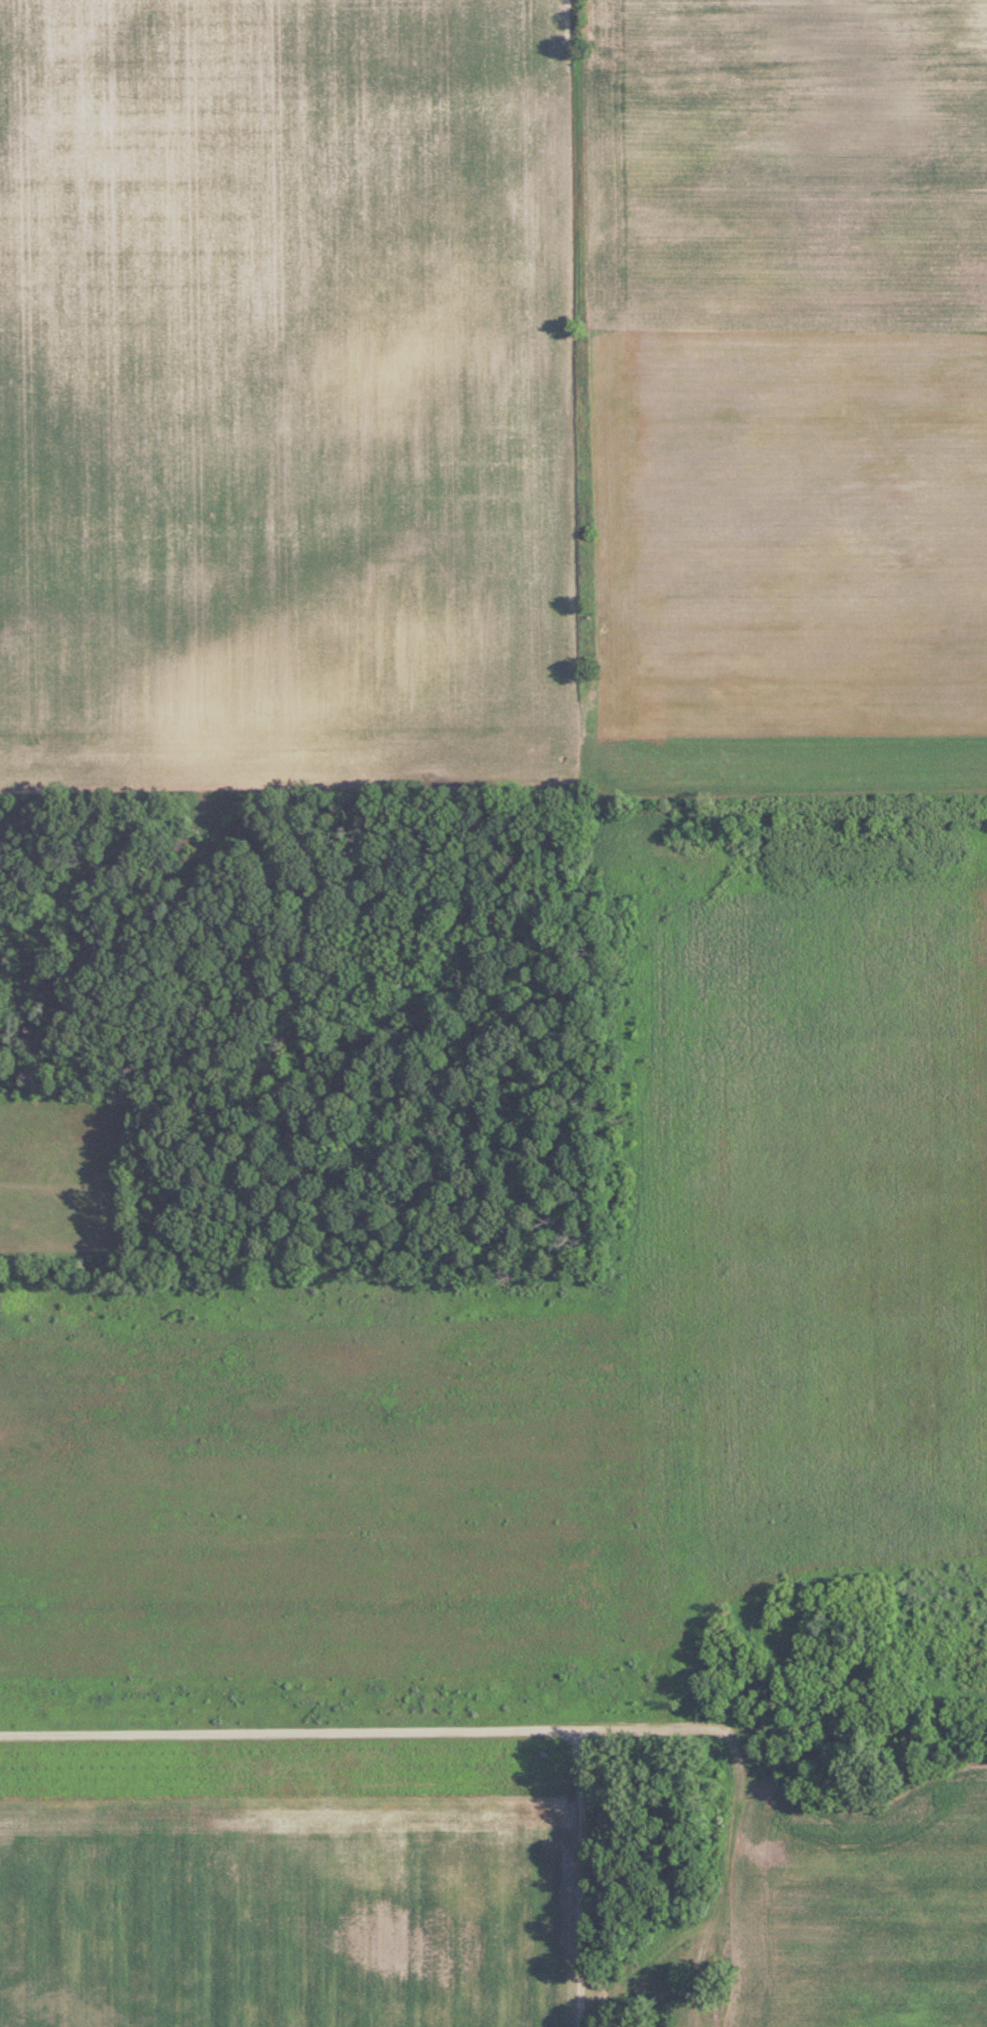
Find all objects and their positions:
road: (513, 1724)

